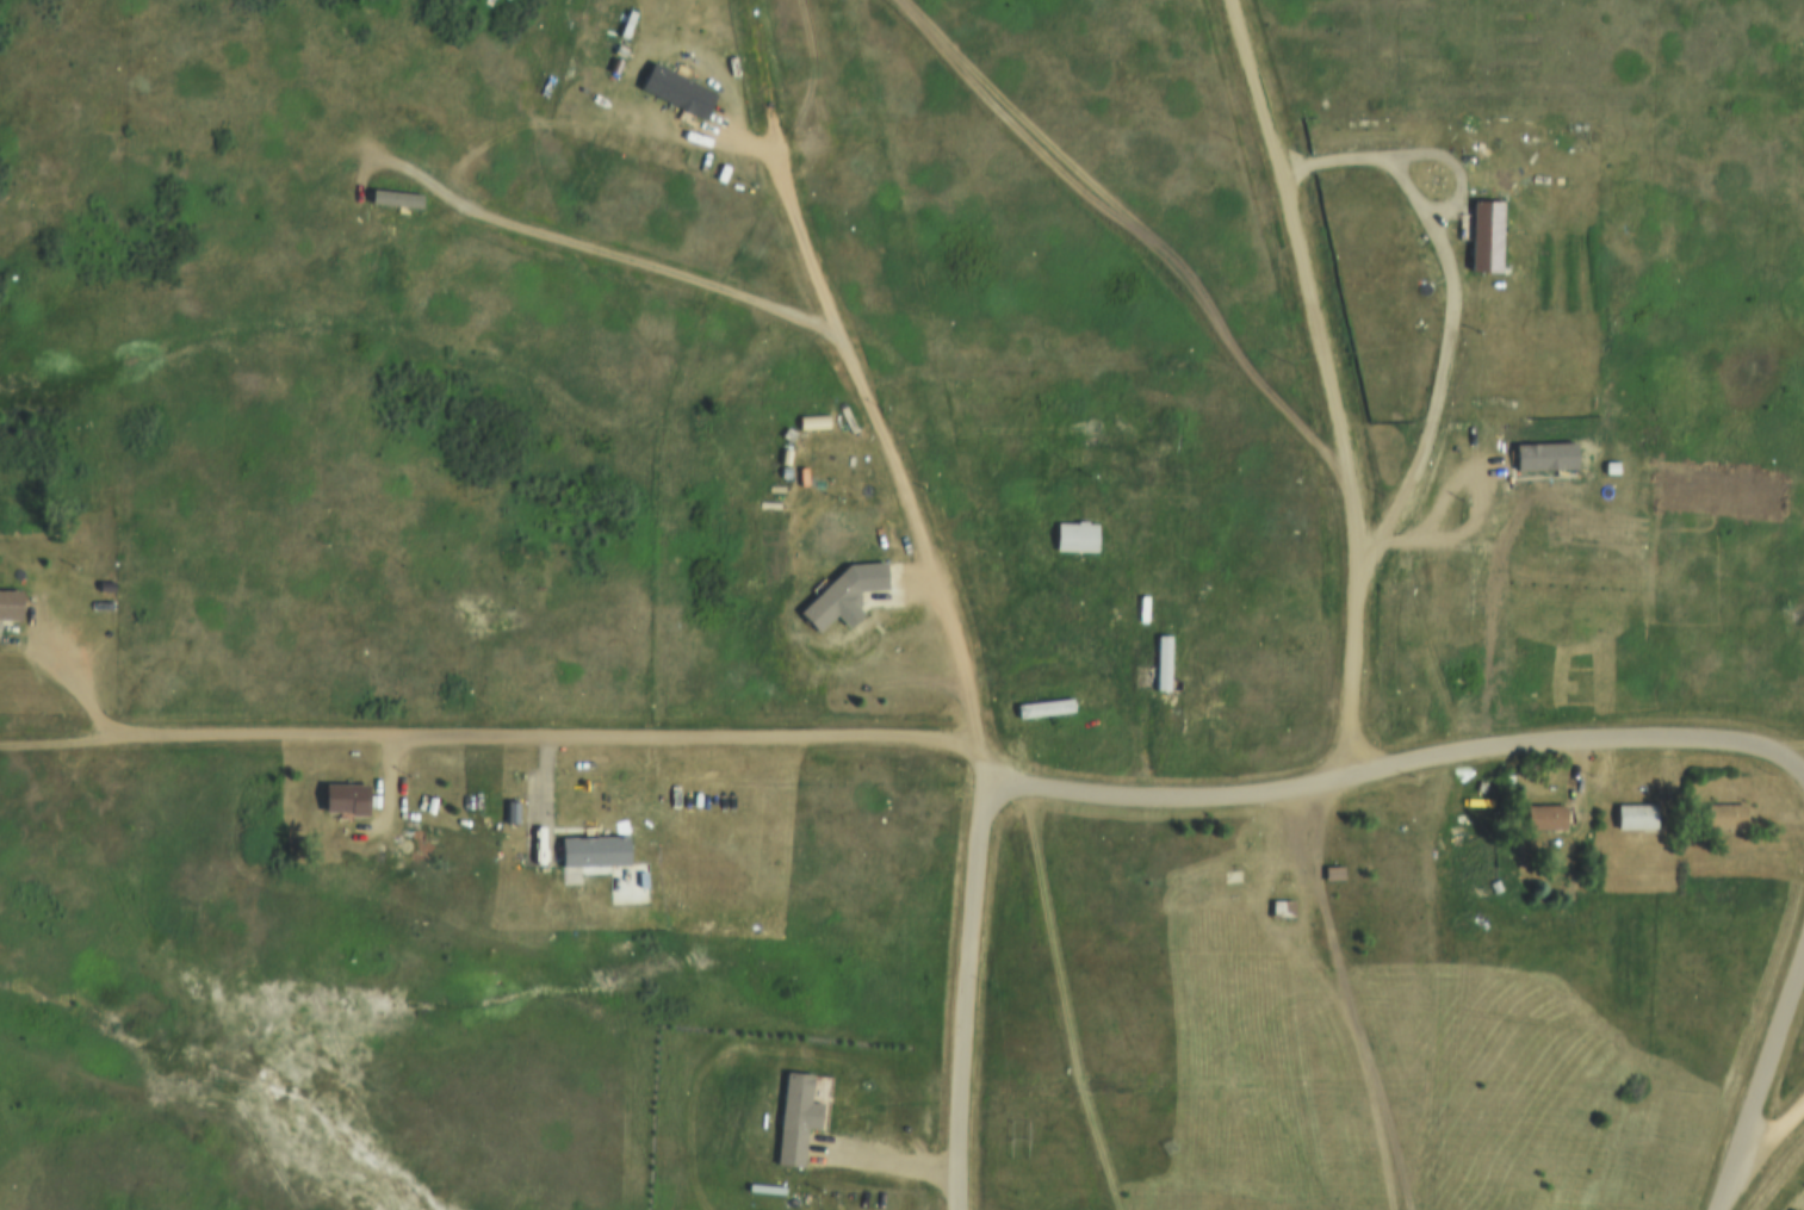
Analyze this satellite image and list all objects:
building: (675, 88)
building: (391, 196)
building: (1481, 236)
road: (616, 250)
road: (856, 372)
building: (811, 416)
building: (1074, 457)
building: (1074, 532)
building: (837, 539)
building: (826, 598)
building: (8, 603)
building: (1140, 604)
building: (708, 631)
road: (1102, 654)
building: (1160, 659)
building: (1041, 706)
road: (477, 738)
road: (1777, 744)
road: (1779, 752)
road: (1374, 775)
building: (340, 800)
building: (1542, 815)
building: (1633, 815)
building: (1722, 815)
building: (590, 851)
building: (1333, 874)
building: (1283, 908)
road: (967, 972)
road: (1443, 979)
road: (1760, 1090)
building: (793, 1116)
road: (1772, 1136)
building: (1793, 1209)

